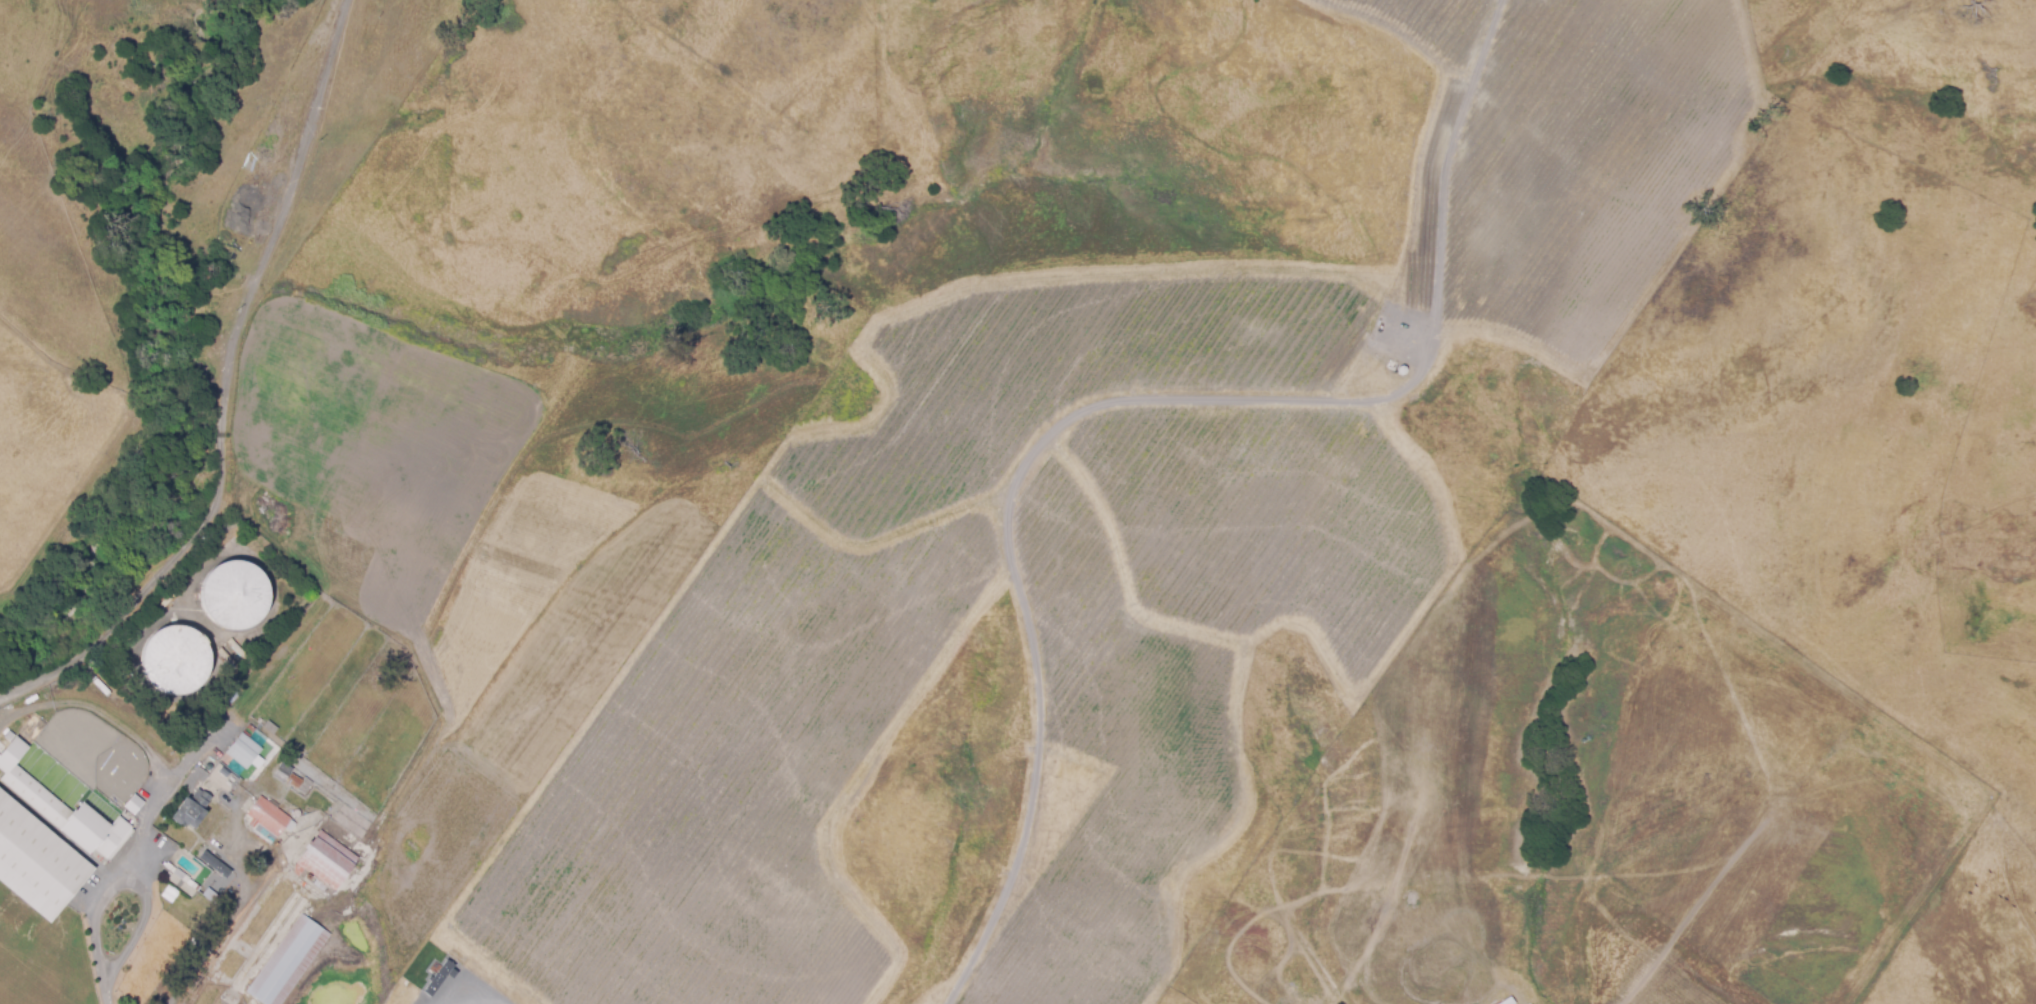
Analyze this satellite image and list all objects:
road: (225, 391)
building: (234, 595)
building: (230, 652)
building: (174, 660)
building: (33, 750)
building: (244, 752)
building: (50, 764)
building: (229, 765)
building: (284, 770)
building: (297, 782)
building: (75, 786)
building: (132, 804)
building: (193, 809)
building: (269, 817)
building: (47, 838)
building: (327, 861)
building: (217, 865)
building: (183, 875)
road: (144, 877)
building: (212, 896)
road: (99, 909)
road: (222, 926)
building: (289, 961)
building: (439, 979)
road: (439, 1001)
building: (1506, 1001)

